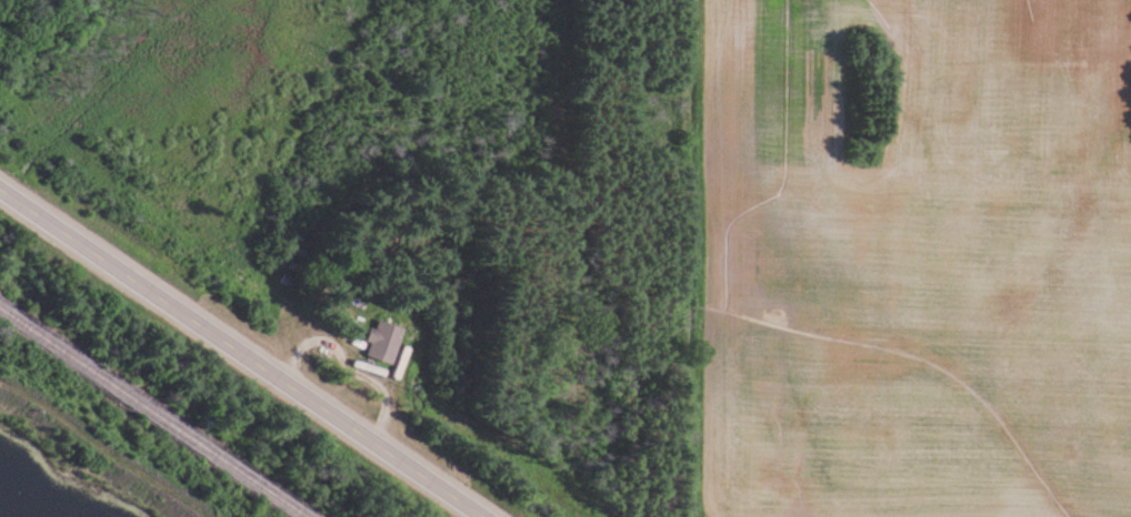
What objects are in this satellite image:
building: (387, 341)
road: (239, 353)
railway: (153, 412)

